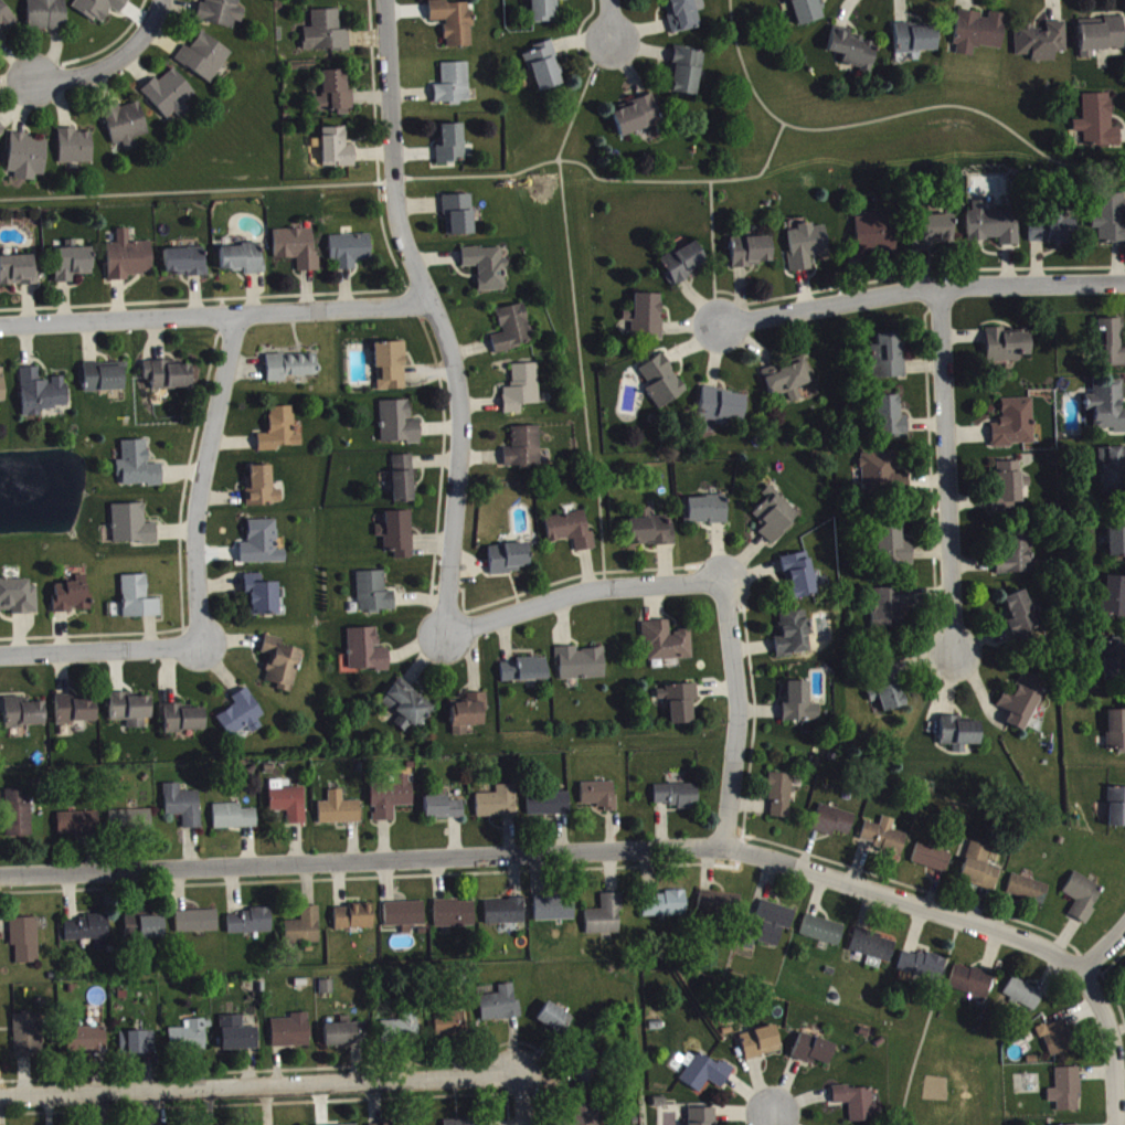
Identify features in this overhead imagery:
building: (102, 10)
building: (545, 13)
building: (807, 13)
building: (223, 15)
building: (46, 17)
building: (682, 18)
road: (609, 19)
building: (6, 23)
building: (455, 26)
building: (979, 36)
building: (327, 38)
building: (1102, 42)
building: (914, 44)
building: (1041, 46)
building: (852, 54)
road: (108, 61)
building: (204, 63)
road: (742, 66)
building: (545, 73)
building: (687, 76)
road: (14, 82)
building: (454, 89)
building: (335, 98)
building: (170, 99)
building: (637, 121)
building: (1099, 128)
building: (126, 129)
building: (1, 138)
building: (452, 149)
building: (75, 152)
building: (338, 153)
building: (28, 162)
road: (587, 168)
building: (459, 221)
building: (1111, 224)
building: (993, 230)
building: (937, 235)
building: (1052, 235)
building: (873, 241)
road: (711, 252)
building: (807, 252)
building: (297, 254)
building: (351, 255)
building: (752, 256)
building: (129, 263)
building: (243, 264)
building: (184, 267)
building: (683, 268)
building: (73, 269)
building: (488, 273)
building: (19, 276)
road: (921, 289)
road: (573, 307)
road: (215, 315)
road: (436, 316)
building: (646, 321)
building: (512, 335)
building: (1107, 347)
building: (1007, 350)
building: (890, 362)
building: (391, 371)
building: (290, 372)
building: (168, 381)
building: (102, 383)
building: (788, 384)
building: (662, 386)
building: (2, 392)
building: (522, 394)
building: (42, 397)
building: (1106, 411)
building: (722, 412)
building: (890, 424)
building: (400, 428)
building: (1015, 428)
building: (280, 436)
building: (524, 453)
building: (138, 471)
road: (946, 471)
building: (1113, 475)
road: (201, 479)
building: (883, 479)
building: (403, 484)
building: (262, 492)
building: (1009, 493)
building: (705, 516)
building: (775, 521)
building: (132, 530)
building: (571, 535)
building: (397, 539)
building: (1117, 541)
building: (262, 549)
building: (895, 551)
building: (1017, 560)
building: (508, 564)
building: (799, 581)
road: (579, 591)
building: (374, 598)
building: (73, 601)
building: (19, 602)
building: (262, 602)
building: (1115, 603)
building: (139, 604)
building: (893, 612)
building: (1021, 620)
building: (794, 639)
building: (666, 647)
road: (99, 650)
building: (367, 656)
building: (1114, 666)
building: (282, 669)
building: (581, 669)
building: (526, 676)
building: (890, 676)
building: (889, 702)
building: (679, 707)
building: (1022, 707)
building: (800, 709)
building: (407, 711)
road: (736, 712)
building: (75, 715)
building: (130, 715)
building: (23, 719)
building: (468, 719)
building: (242, 722)
building: (183, 724)
building: (1116, 736)
building: (959, 739)
building: (601, 800)
building: (677, 800)
building: (781, 802)
building: (392, 803)
building: (498, 808)
building: (290, 809)
building: (549, 810)
building: (183, 811)
building: (1116, 813)
building: (444, 814)
building: (339, 815)
building: (19, 818)
building: (234, 822)
building: (130, 826)
building: (834, 827)
building: (78, 828)
building: (885, 842)
road: (551, 851)
building: (932, 863)
building: (980, 872)
building: (1029, 894)
building: (1083, 902)
building: (720, 910)
building: (665, 911)
building: (555, 913)
building: (506, 917)
building: (405, 920)
building: (455, 920)
building: (606, 921)
building: (354, 923)
building: (773, 926)
building: (198, 927)
building: (251, 927)
building: (144, 932)
building: (305, 933)
building: (88, 934)
building: (822, 936)
building: (25, 945)
road: (1103, 947)
building: (873, 951)
building: (922, 970)
building: (972, 986)
building: (327, 993)
building: (1023, 1000)
building: (500, 1010)
building: (555, 1025)
building: (450, 1028)
building: (400, 1034)
building: (290, 1038)
building: (346, 1039)
building: (238, 1040)
building: (28, 1041)
building: (189, 1042)
building: (1058, 1043)
road: (1110, 1043)
building: (88, 1047)
building: (137, 1049)
building: (761, 1049)
building: (815, 1055)
building: (590, 1071)
building: (707, 1079)
road: (259, 1089)
building: (1066, 1095)
road: (521, 1102)
building: (859, 1107)
building: (586, 1116)
building: (702, 1119)
road: (773, 1119)

